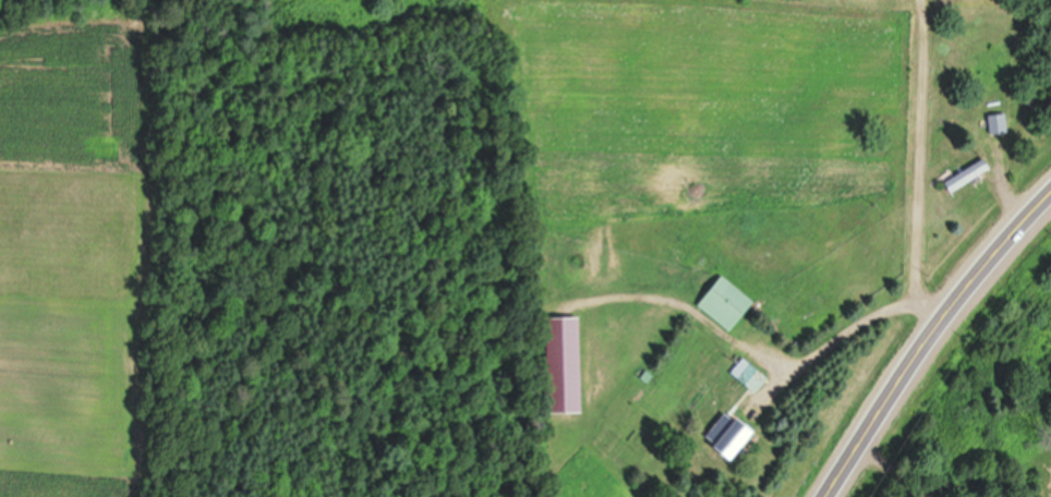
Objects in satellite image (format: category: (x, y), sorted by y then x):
building: (1002, 122)
building: (974, 173)
building: (732, 302)
road: (929, 337)
building: (570, 361)
building: (735, 434)
road: (892, 470)

